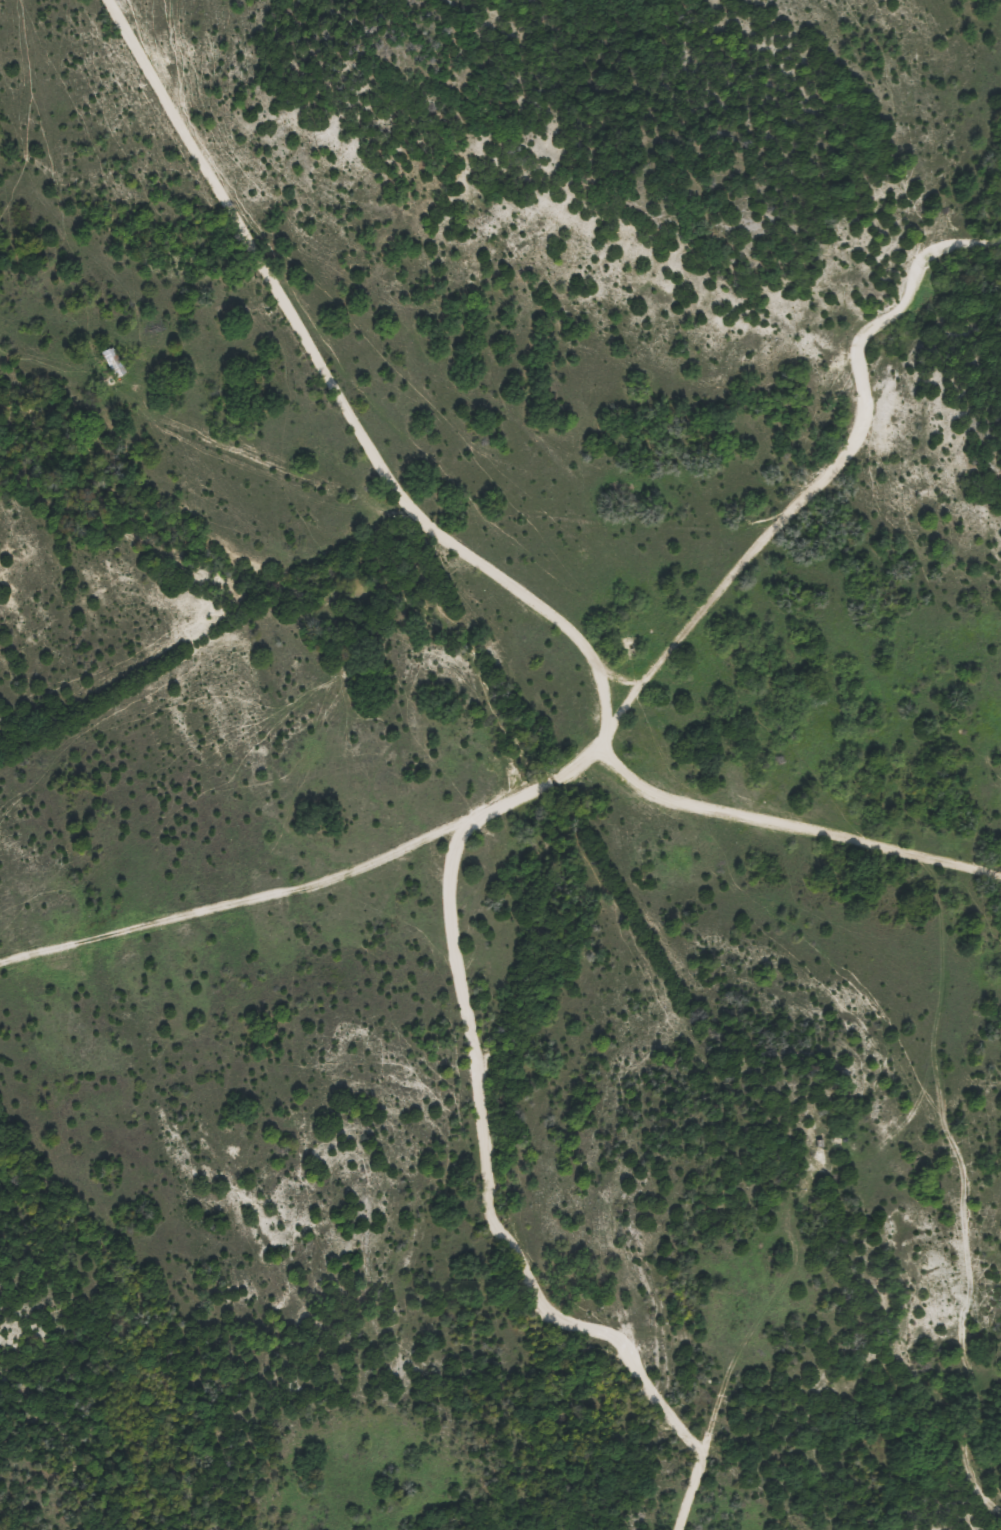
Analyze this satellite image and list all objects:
road: (298, 471)
road: (484, 561)
road: (608, 716)
road: (482, 1178)

